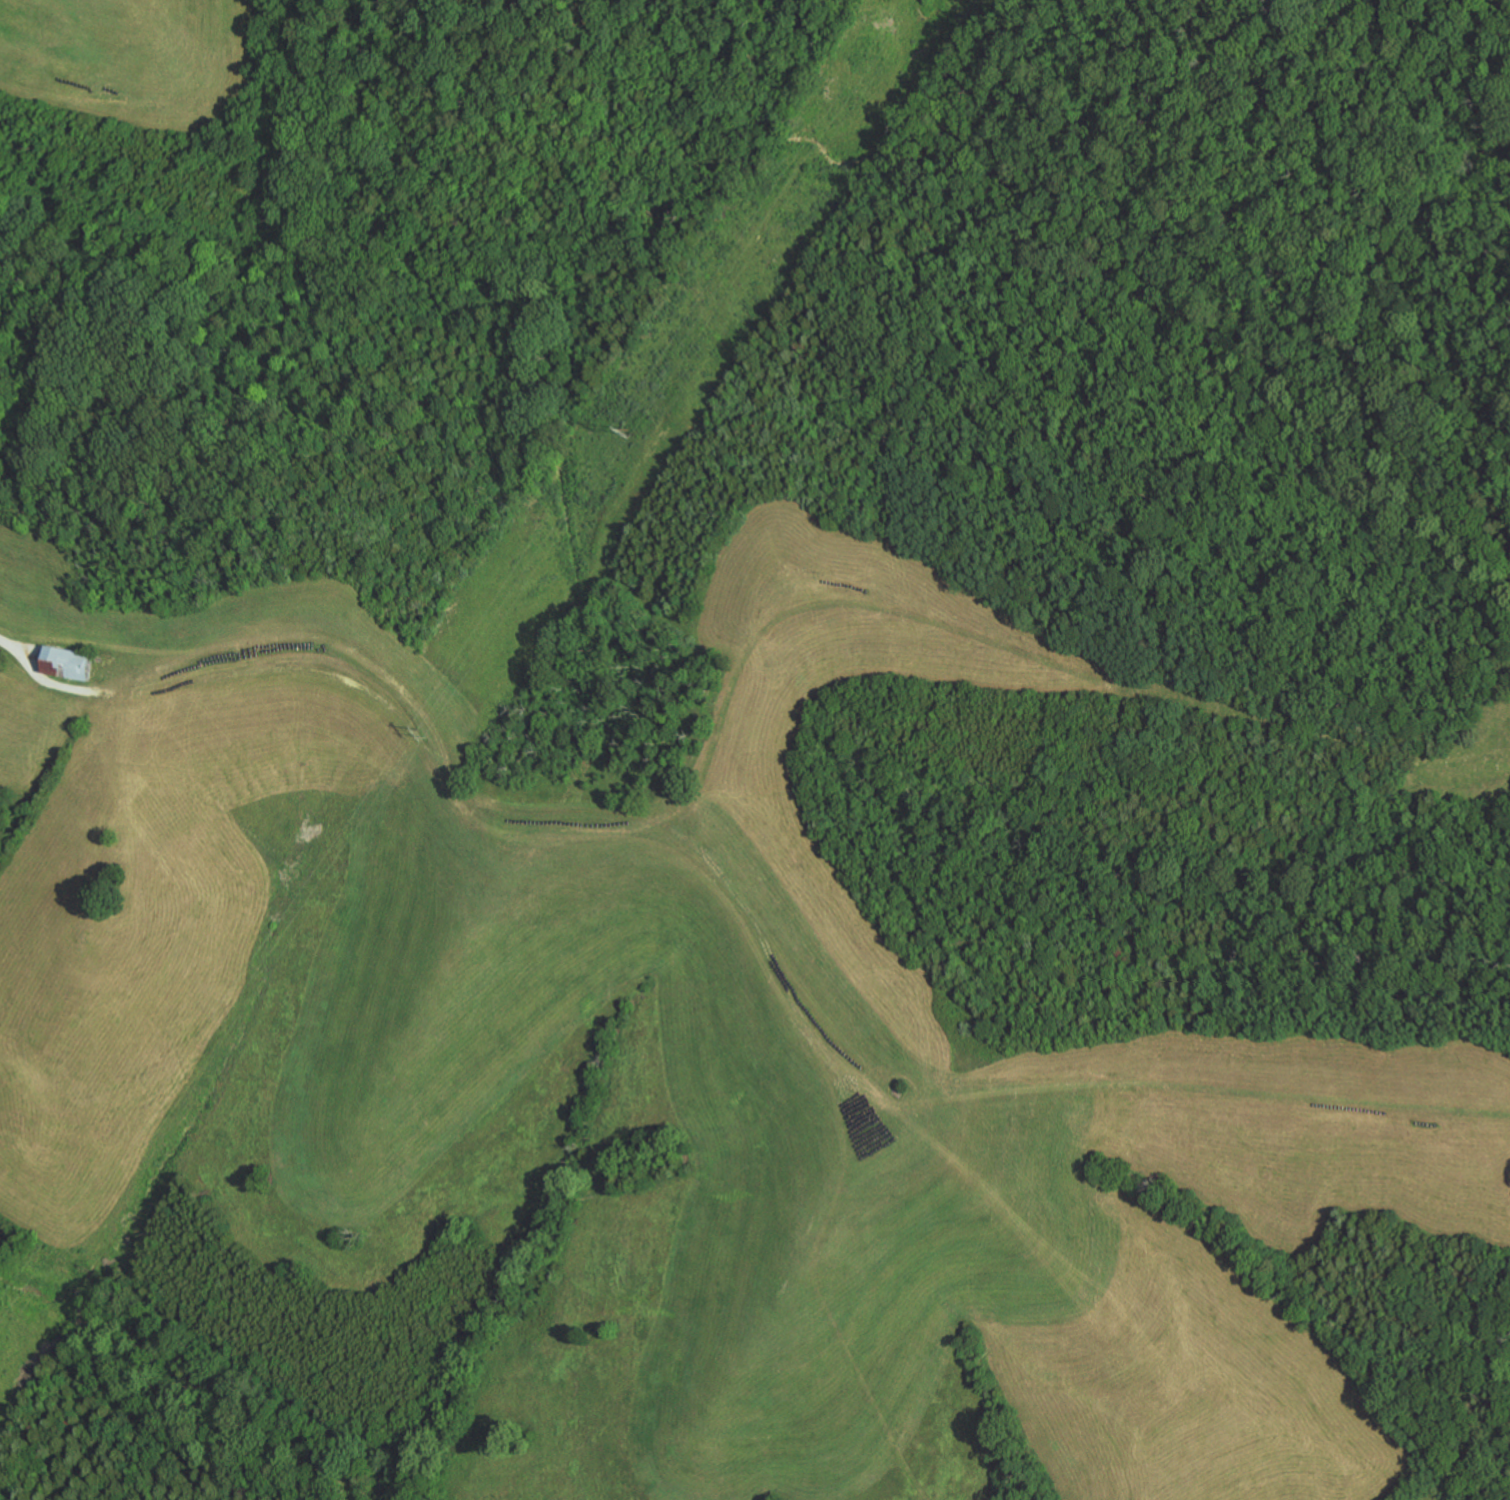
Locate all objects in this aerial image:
building: (73, 663)
road: (41, 674)
power tower: (428, 734)

